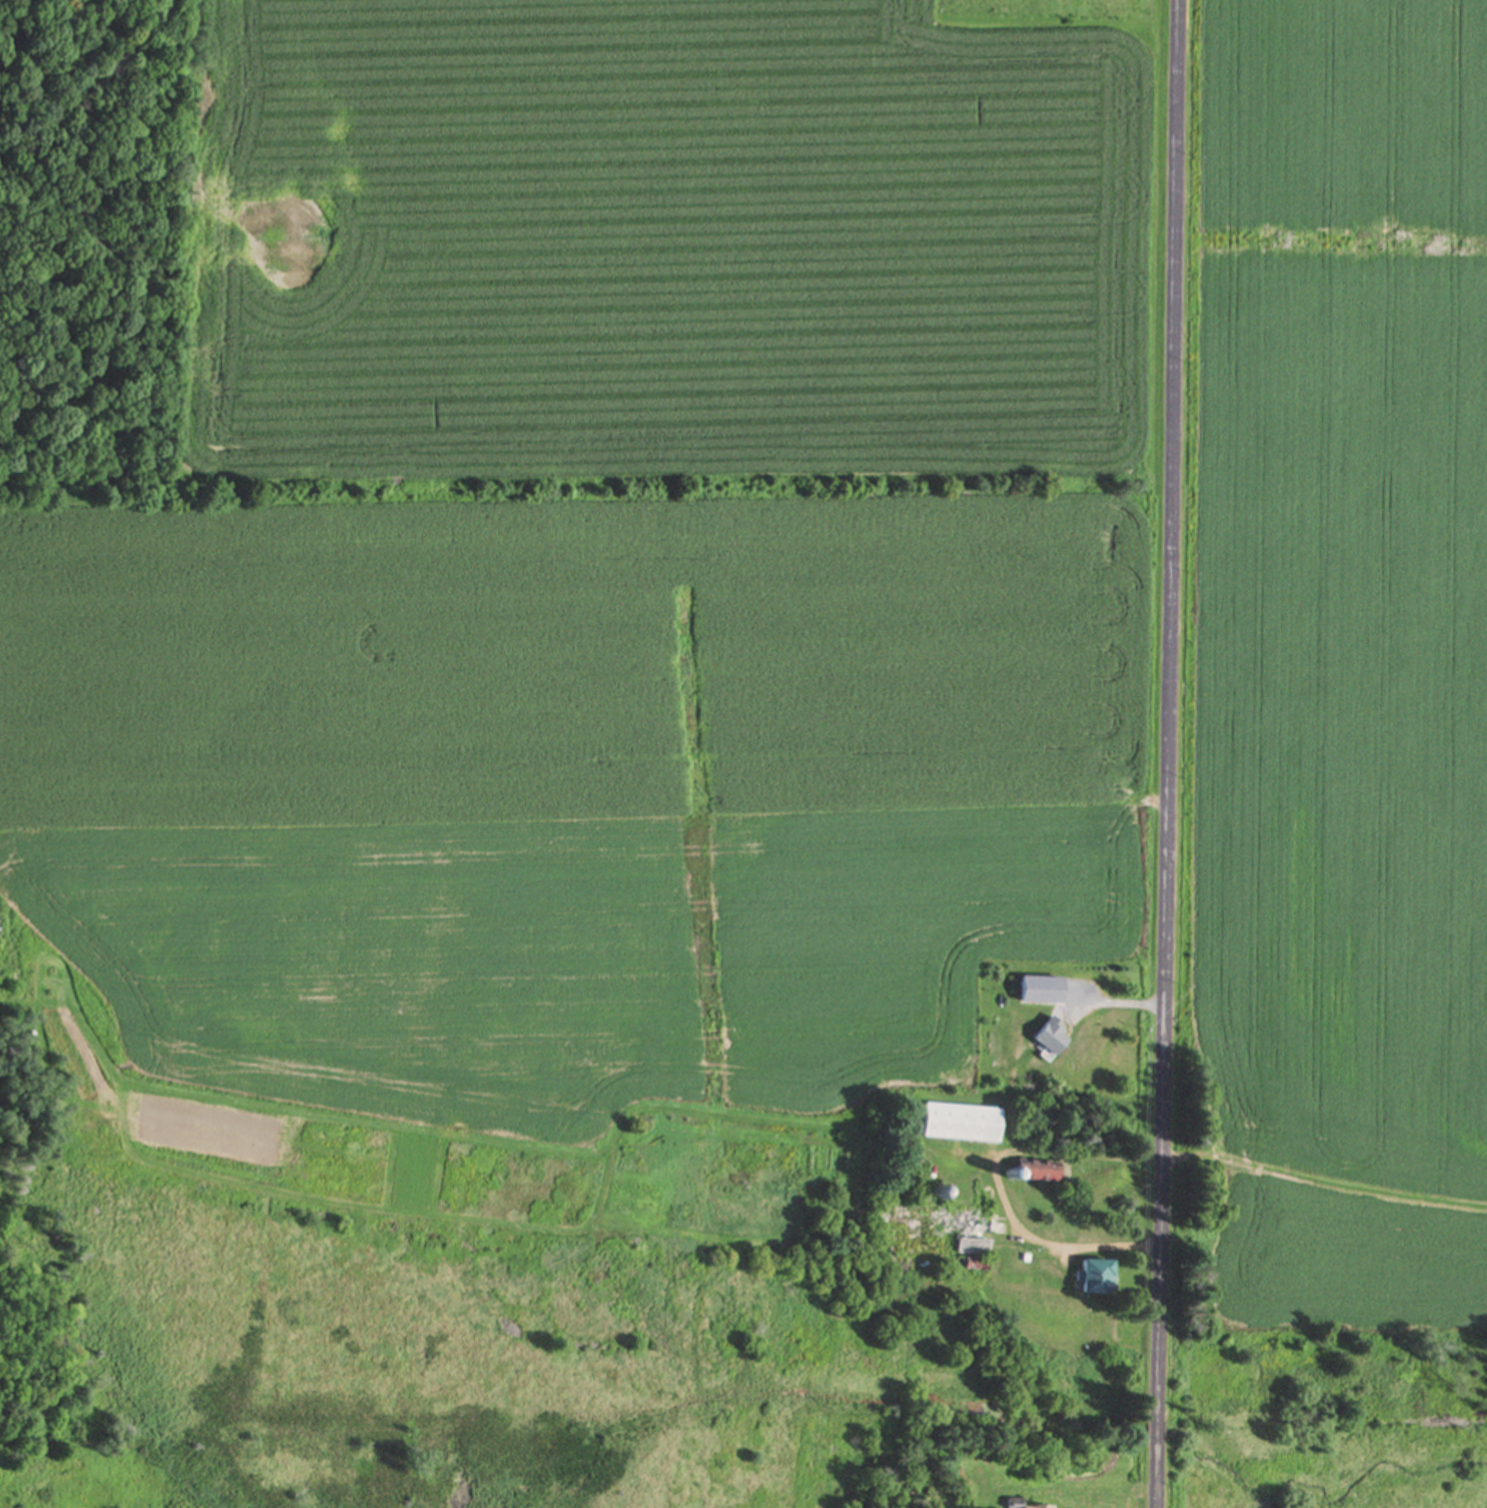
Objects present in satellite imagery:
road: (1165, 754)
building: (1049, 1037)
building: (959, 1123)
building: (1035, 1171)
building: (934, 1221)
building: (1094, 1277)
building: (1024, 1506)

